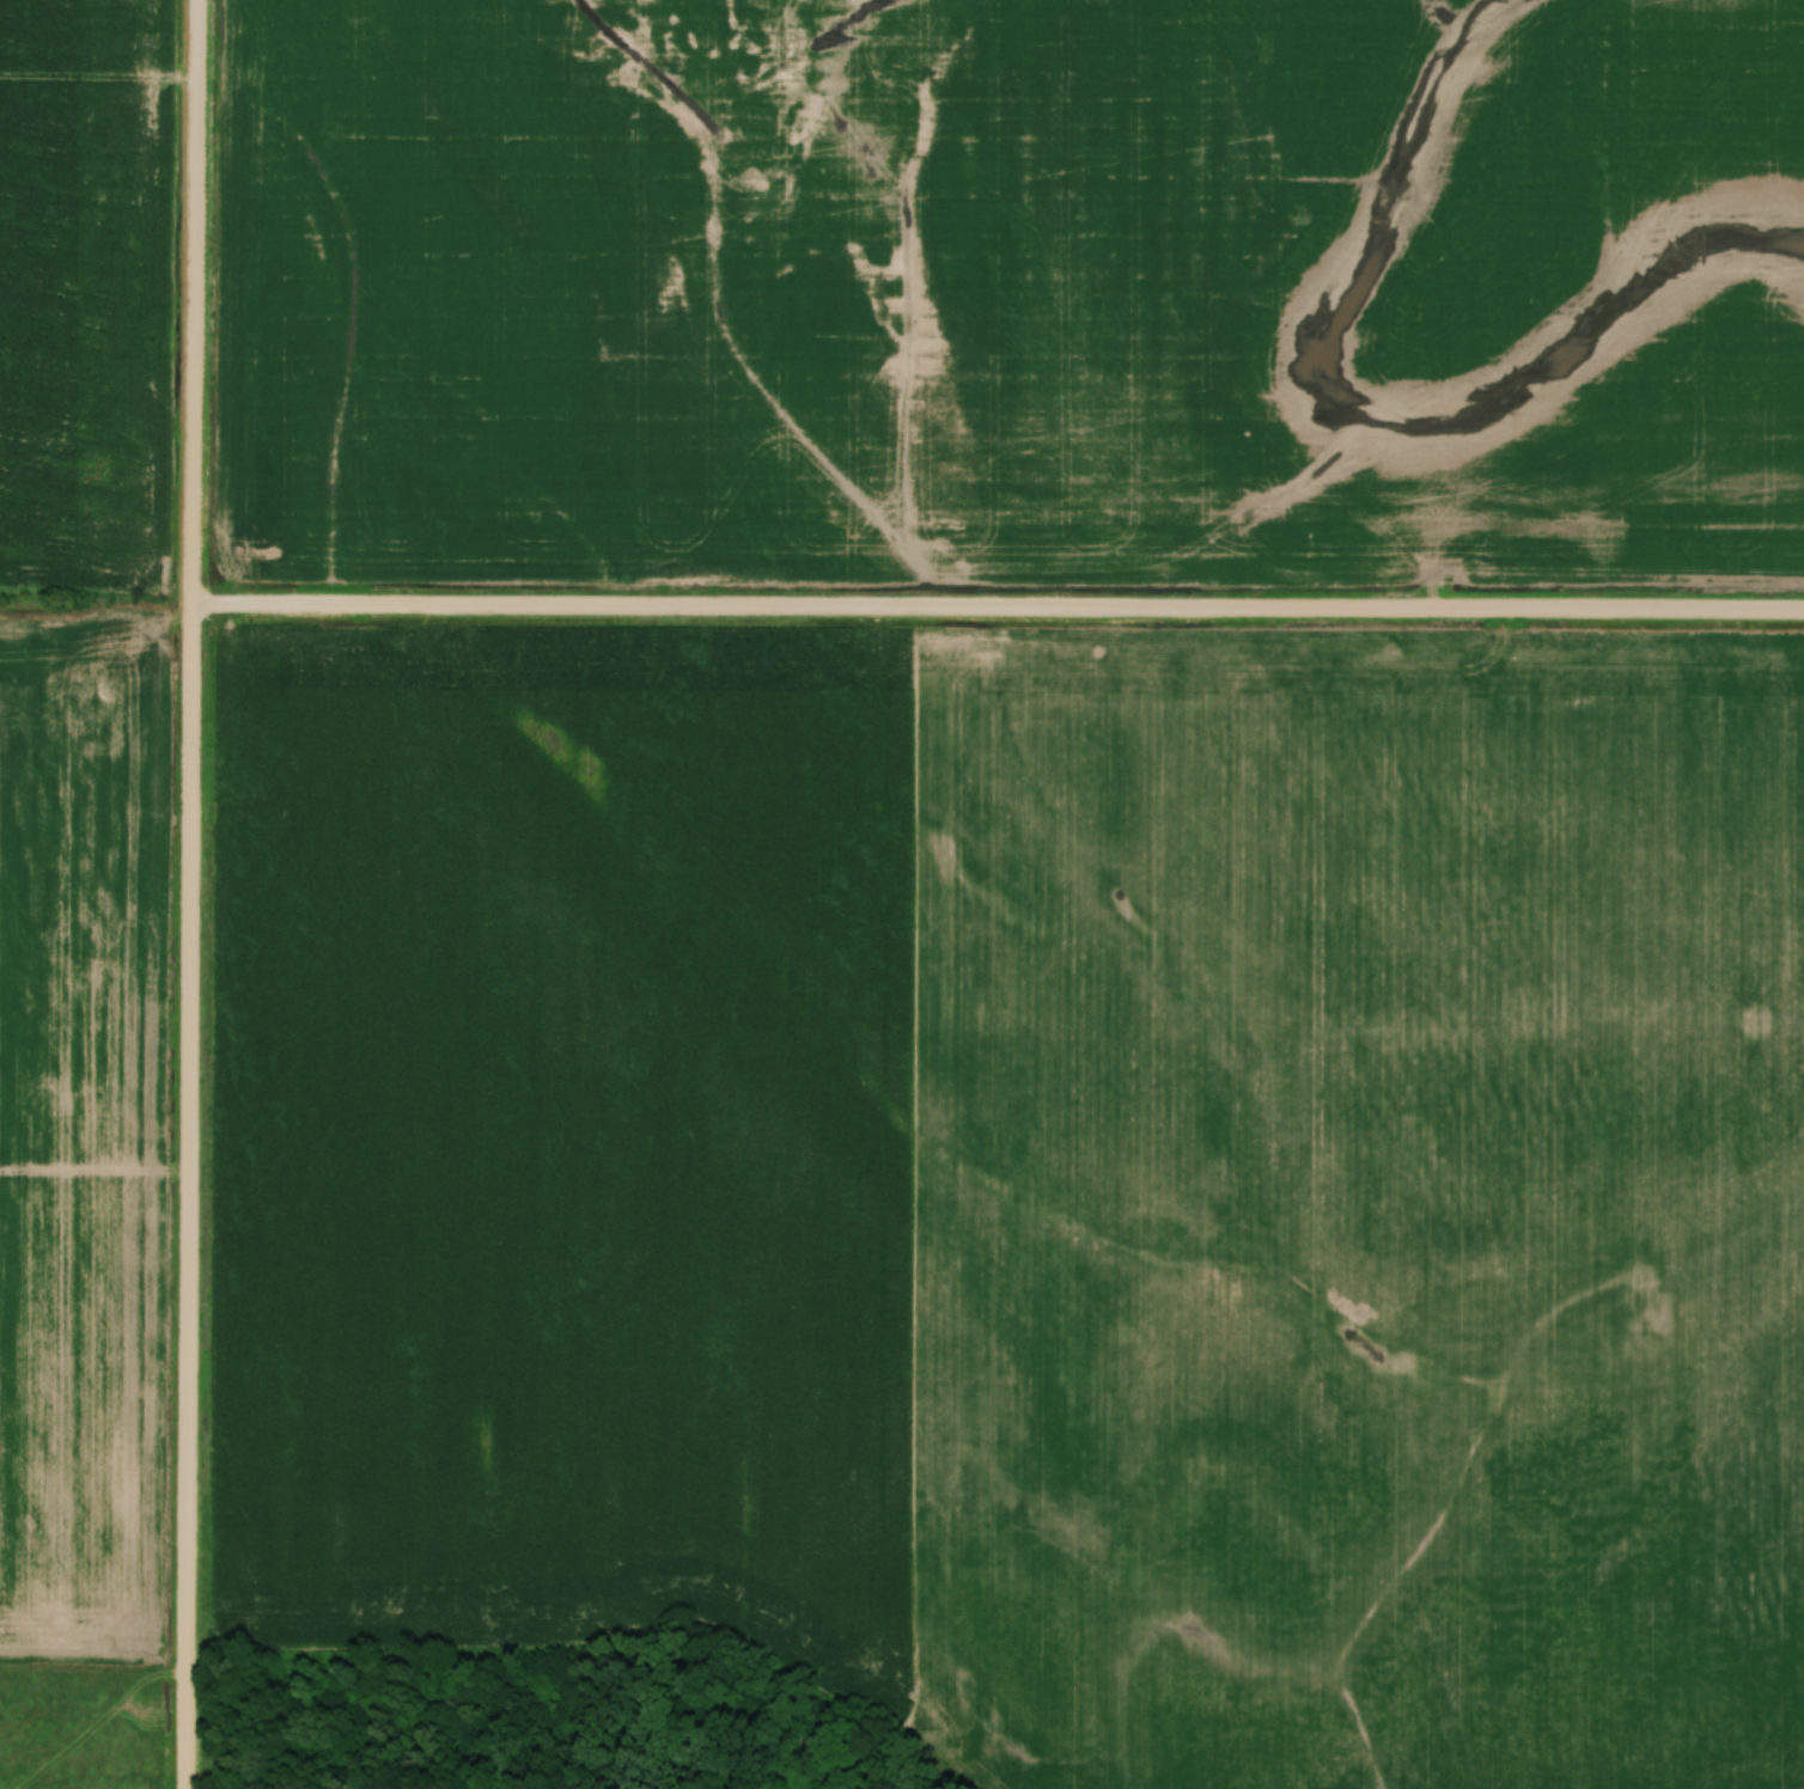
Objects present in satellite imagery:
road: (1000, 605)
road: (194, 894)

